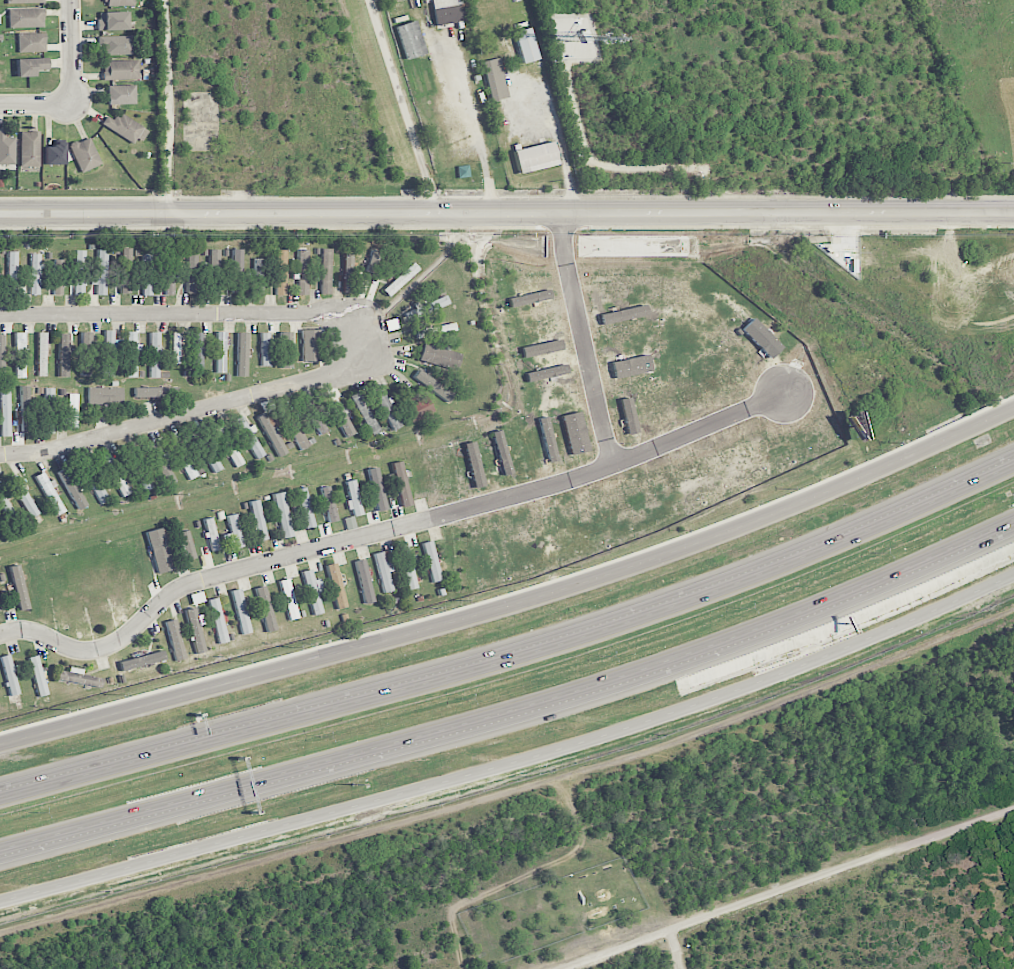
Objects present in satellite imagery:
building: (24, 1)
building: (118, 2)
building: (446, 11)
building: (26, 18)
building: (112, 21)
building: (410, 40)
building: (31, 42)
building: (114, 45)
building: (525, 45)
road: (73, 52)
building: (30, 66)
building: (120, 70)
building: (494, 79)
building: (121, 95)
road: (37, 105)
road: (403, 106)
road: (169, 107)
road: (474, 122)
building: (125, 128)
building: (30, 149)
building: (7, 150)
building: (54, 154)
building: (85, 154)
building: (536, 156)
road: (507, 214)
building: (192, 270)
building: (236, 270)
building: (124, 271)
building: (213, 271)
building: (325, 271)
building: (146, 272)
building: (281, 272)
building: (303, 272)
building: (347, 272)
building: (79, 273)
building: (100, 273)
building: (12, 274)
building: (35, 274)
building: (168, 276)
building: (258, 276)
building: (58, 277)
building: (400, 279)
building: (426, 308)
road: (203, 313)
building: (436, 330)
road: (582, 341)
building: (310, 345)
building: (176, 348)
building: (540, 348)
building: (265, 349)
building: (198, 350)
building: (285, 350)
building: (109, 352)
building: (221, 352)
building: (86, 353)
building: (131, 353)
building: (2, 354)
building: (42, 354)
building: (242, 354)
building: (20, 355)
building: (64, 355)
building: (155, 355)
building: (439, 357)
building: (545, 373)
building: (432, 385)
building: (156, 392)
building: (105, 395)
building: (386, 408)
building: (418, 408)
building: (47, 410)
building: (71, 412)
building: (364, 412)
building: (5, 414)
road: (184, 414)
building: (341, 418)
building: (317, 419)
building: (574, 433)
building: (271, 435)
building: (249, 438)
building: (547, 439)
building: (228, 445)
building: (206, 450)
building: (501, 453)
building: (182, 458)
building: (161, 464)
building: (473, 464)
building: (135, 467)
building: (447, 467)
road: (613, 468)
building: (115, 475)
building: (425, 477)
building: (94, 482)
building: (401, 483)
building: (72, 488)
building: (377, 489)
building: (51, 495)
building: (23, 496)
building: (353, 499)
building: (329, 504)
building: (4, 505)
building: (305, 508)
building: (283, 515)
building: (258, 520)
building: (350, 523)
building: (558, 531)
building: (233, 532)
building: (211, 534)
building: (506, 544)
building: (159, 551)
building: (481, 551)
building: (456, 559)
building: (432, 561)
building: (408, 568)
building: (384, 572)
road: (206, 577)
building: (364, 581)
building: (336, 586)
building: (19, 587)
building: (313, 591)
building: (289, 599)
road: (516, 604)
building: (0, 606)
building: (265, 609)
building: (241, 611)
building: (217, 620)
building: (195, 630)
building: (175, 640)
road: (515, 657)
building: (142, 660)
building: (9, 675)
building: (38, 676)
building: (79, 678)
road: (515, 709)
road: (515, 762)
road: (514, 793)
road: (790, 889)

